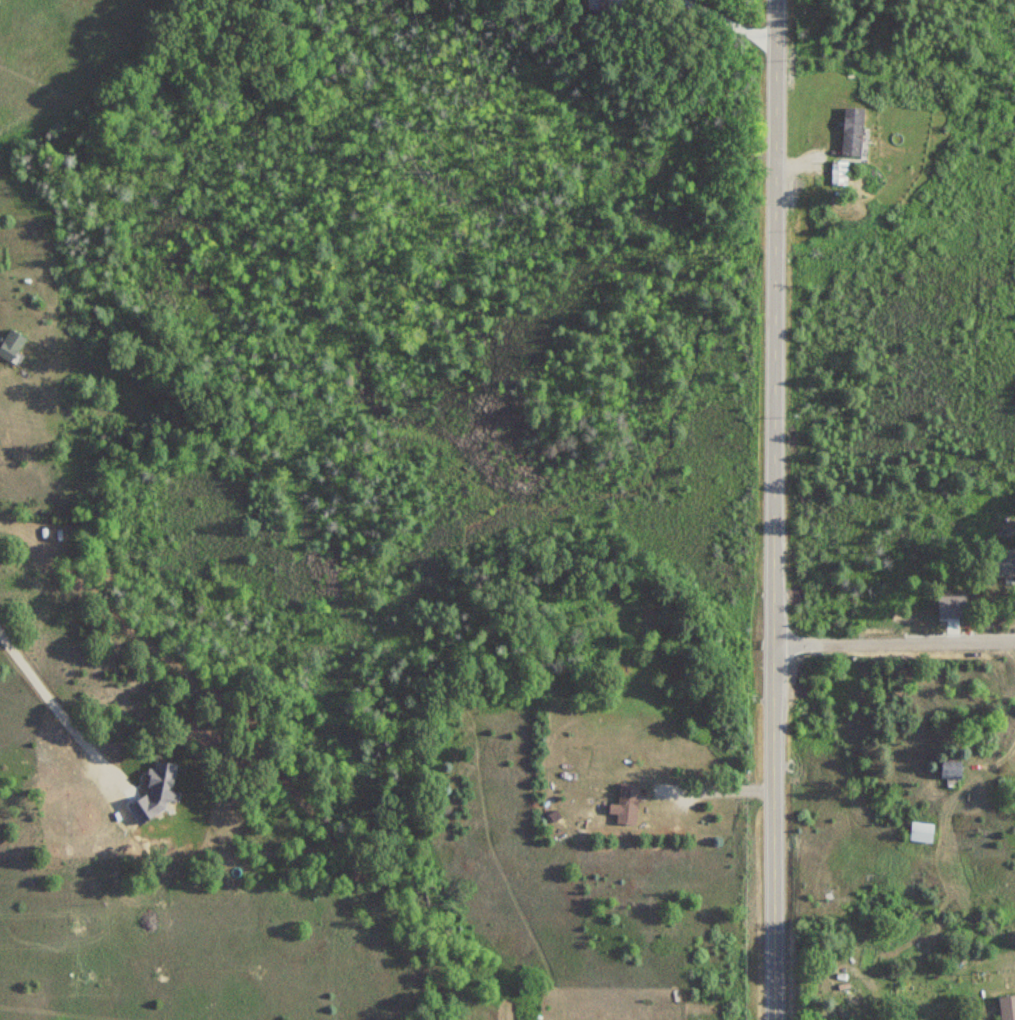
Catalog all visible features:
building: (598, 4)
road: (732, 21)
building: (851, 132)
building: (838, 174)
building: (15, 346)
road: (775, 510)
building: (1003, 567)
road: (894, 646)
road: (42, 692)
building: (946, 770)
road: (714, 791)
building: (630, 806)
building: (920, 833)
road: (1009, 941)
building: (899, 991)
building: (1006, 1008)

